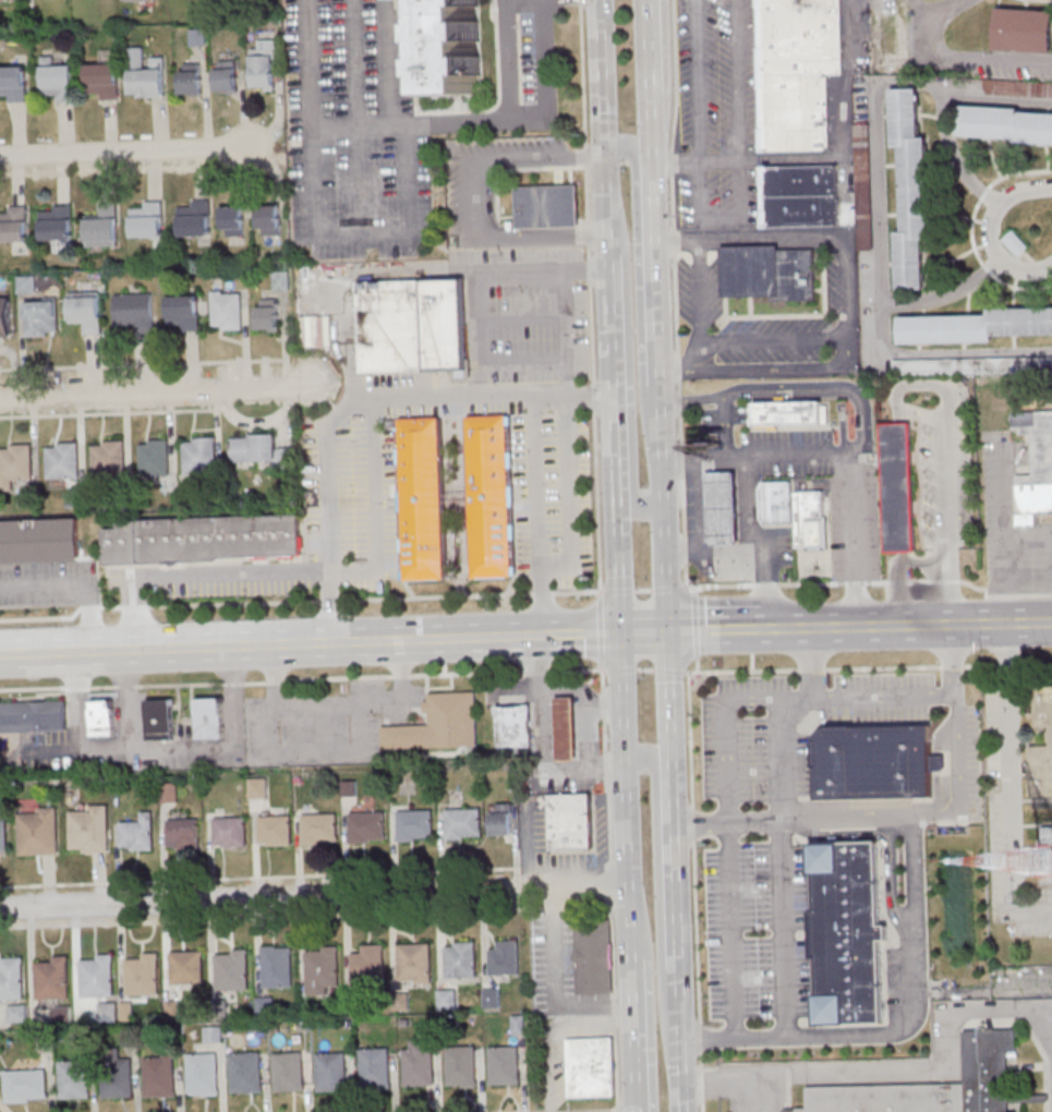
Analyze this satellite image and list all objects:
building: (1024, 29)
building: (197, 37)
road: (648, 39)
building: (454, 46)
road: (963, 56)
road: (388, 62)
building: (264, 63)
road: (311, 64)
building: (799, 72)
building: (146, 74)
road: (601, 74)
building: (226, 76)
building: (190, 78)
building: (58, 80)
building: (102, 80)
road: (698, 81)
building: (13, 83)
road: (876, 106)
road: (528, 120)
building: (1005, 125)
road: (841, 147)
traffic signals: (604, 148)
road: (136, 153)
road: (498, 156)
road: (956, 157)
road: (676, 165)
building: (863, 171)
road: (314, 177)
building: (911, 191)
building: (800, 195)
building: (547, 206)
building: (193, 217)
building: (146, 219)
building: (268, 219)
building: (232, 220)
building: (57, 222)
building: (13, 223)
building: (102, 226)
road: (991, 232)
road: (541, 238)
building: (1015, 242)
building: (769, 271)
road: (409, 273)
road: (641, 279)
building: (25, 283)
road: (590, 297)
road: (675, 297)
road: (700, 297)
building: (227, 310)
building: (86, 311)
building: (134, 311)
road: (847, 311)
building: (182, 313)
building: (267, 314)
building: (4, 317)
building: (40, 317)
building: (412, 326)
building: (976, 326)
road: (566, 334)
road: (774, 341)
road: (882, 350)
road: (658, 354)
road: (142, 363)
building: (972, 364)
road: (616, 389)
road: (156, 394)
road: (630, 398)
road: (367, 400)
building: (787, 412)
road: (867, 415)
building: (261, 450)
building: (198, 455)
building: (108, 457)
building: (153, 457)
road: (753, 457)
building: (61, 460)
building: (14, 463)
building: (1035, 467)
road: (899, 486)
building: (898, 487)
building: (491, 493)
road: (946, 495)
building: (422, 497)
building: (774, 501)
building: (720, 507)
gas station: (720, 507)
road: (542, 517)
building: (809, 520)
road: (1030, 535)
building: (203, 539)
building: (39, 541)
road: (760, 542)
road: (304, 571)
road: (78, 587)
road: (900, 589)
road: (299, 601)
road: (694, 626)
road: (873, 626)
road: (600, 629)
road: (682, 629)
road: (646, 630)
traffic signals: (669, 630)
traffic signals: (624, 631)
road: (312, 644)
road: (952, 658)
road: (808, 661)
road: (874, 666)
road: (300, 679)
road: (584, 693)
road: (778, 696)
road: (605, 706)
building: (1044, 709)
building: (32, 716)
building: (101, 717)
building: (209, 718)
building: (160, 720)
building: (438, 724)
building: (513, 726)
building: (564, 728)
gas station: (564, 728)
road: (104, 748)
road: (779, 758)
building: (873, 762)
building: (1041, 771)
road: (1007, 787)
building: (257, 788)
road: (629, 794)
road: (927, 815)
building: (503, 818)
building: (569, 821)
building: (463, 823)
road: (728, 823)
building: (415, 824)
building: (367, 826)
building: (88, 827)
building: (319, 829)
building: (37, 830)
building: (275, 830)
building: (230, 831)
building: (137, 833)
building: (183, 833)
building: (3, 836)
road: (528, 847)
road: (569, 870)
road: (676, 871)
road: (304, 875)
road: (694, 881)
road: (608, 889)
road: (316, 897)
road: (661, 906)
road: (303, 915)
road: (786, 927)
road: (733, 930)
building: (845, 932)
building: (505, 958)
building: (593, 958)
building: (460, 959)
building: (414, 963)
building: (368, 965)
building: (277, 966)
building: (186, 967)
building: (232, 969)
building: (323, 969)
building: (141, 970)
building: (96, 975)
building: (51, 977)
building: (11, 978)
road: (552, 989)
building: (492, 998)
building: (447, 999)
building: (108, 1012)
building: (16, 1013)
road: (899, 1029)
building: (214, 1034)
road: (637, 1035)
building: (0, 1041)
building: (419, 1062)
building: (504, 1064)
building: (460, 1065)
building: (591, 1067)
building: (375, 1068)
road: (933, 1069)
building: (288, 1071)
building: (245, 1072)
building: (331, 1072)
building: (117, 1074)
building: (202, 1074)
building: (159, 1075)
building: (74, 1078)
road: (1049, 1078)
road: (734, 1083)
building: (24, 1085)
building: (939, 1086)
road: (4, 1105)
road: (571, 1111)

